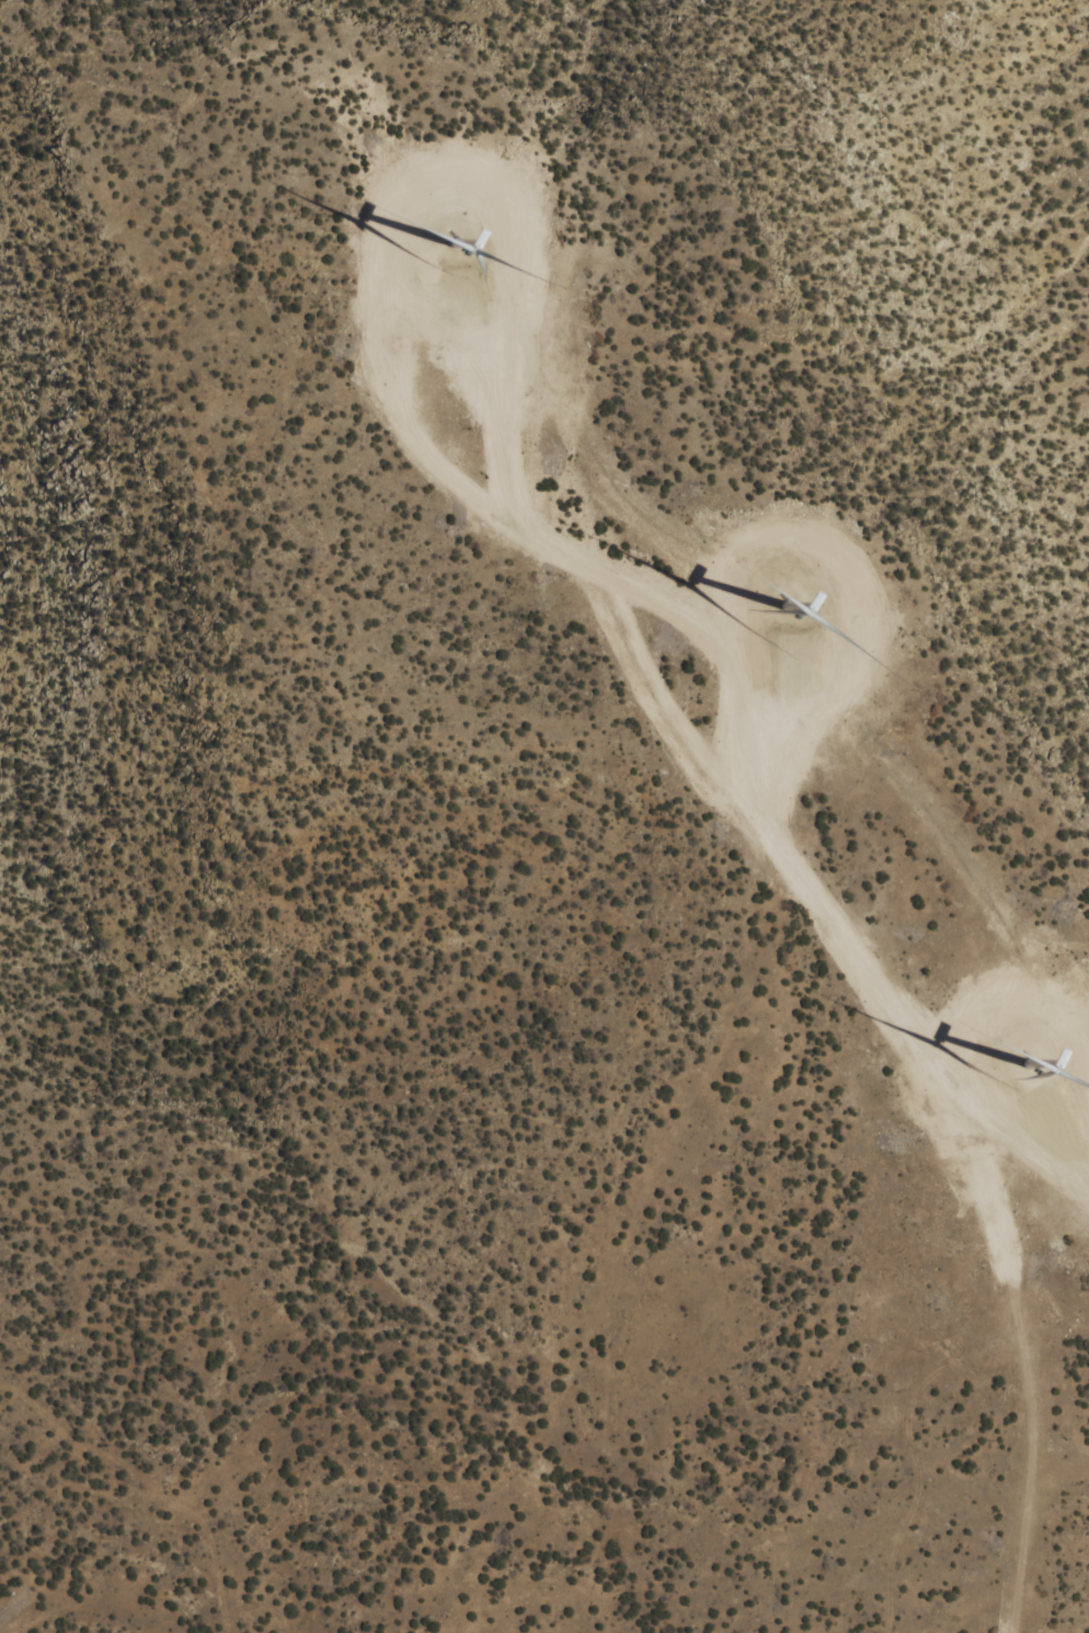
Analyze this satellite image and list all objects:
wind turbine: (462, 243)
wind turbine: (786, 615)
wind turbine: (1029, 1070)

